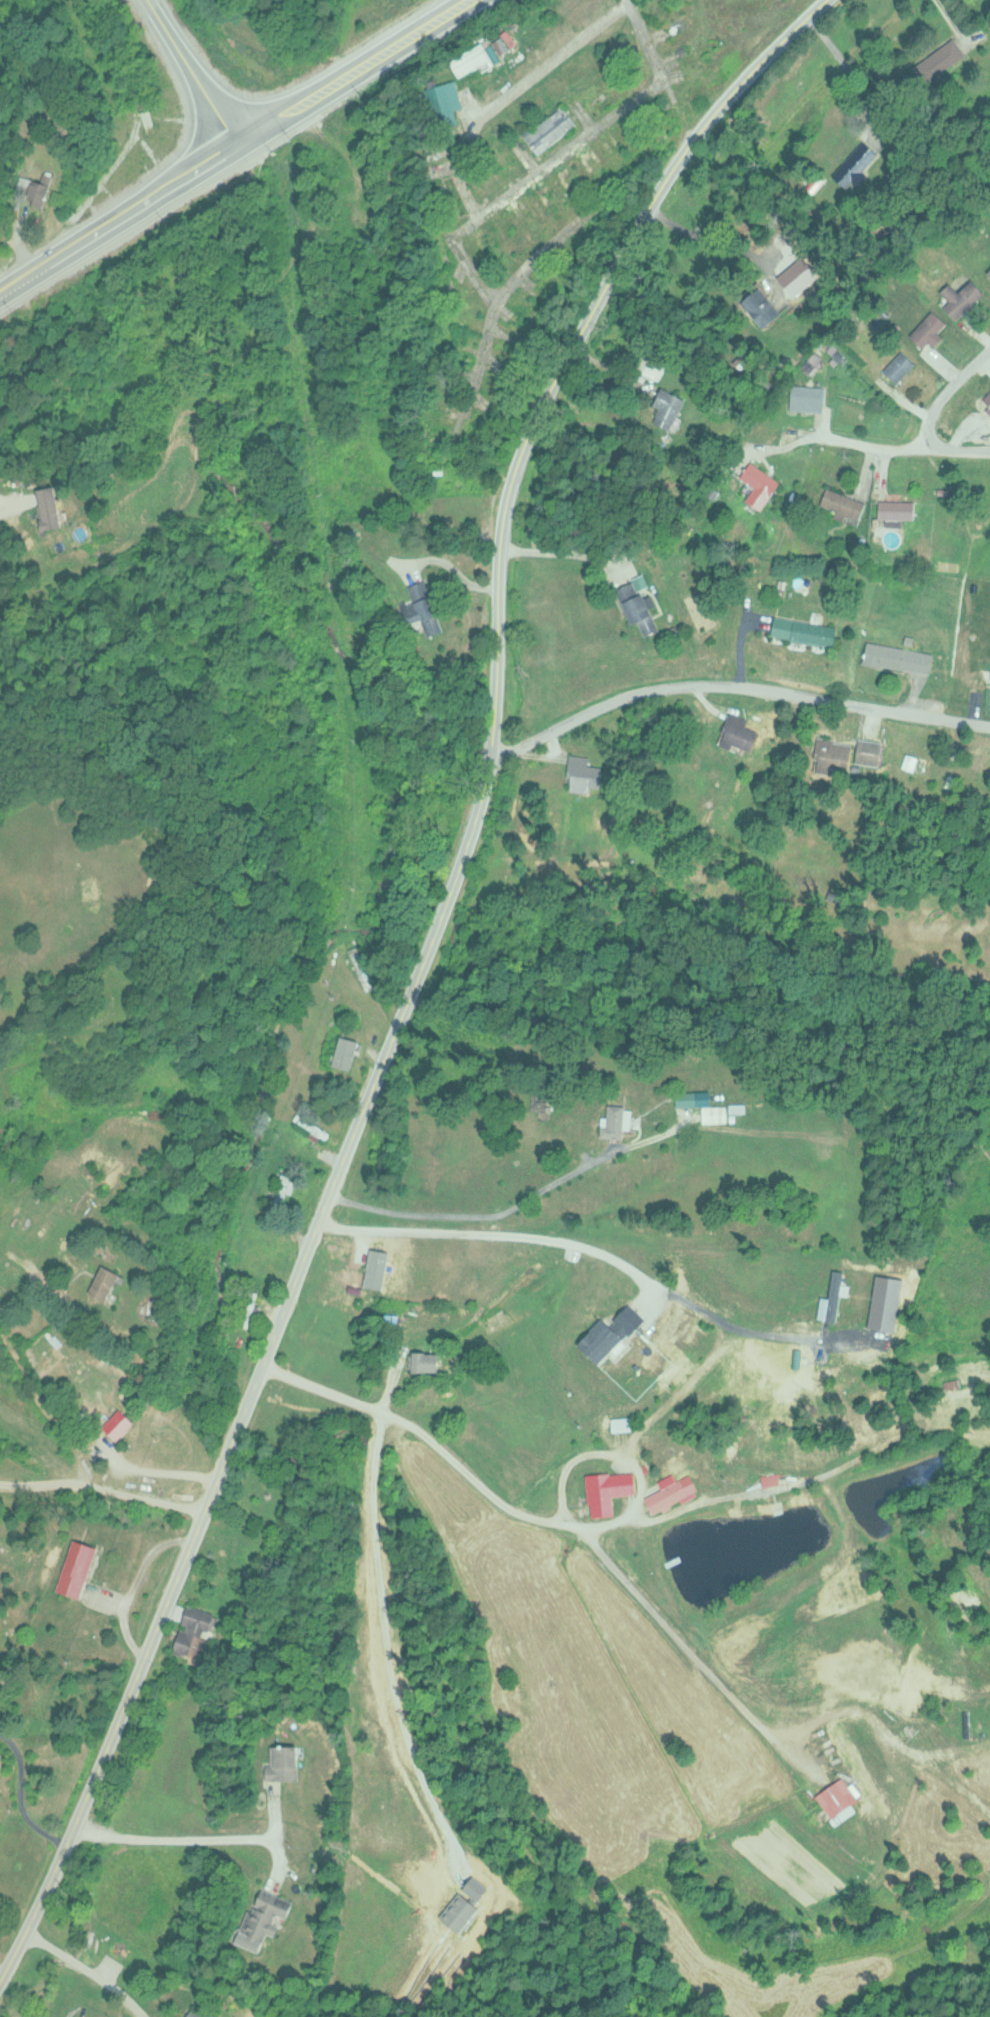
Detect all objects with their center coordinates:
building: (748, 0)
building: (382, 5)
building: (671, 13)
building: (686, 32)
building: (700, 51)
building: (943, 55)
building: (472, 58)
road: (193, 74)
building: (704, 80)
road: (505, 93)
building: (450, 102)
road: (678, 110)
building: (551, 128)
building: (629, 142)
road: (237, 149)
road: (558, 153)
building: (610, 158)
building: (856, 163)
building: (584, 170)
building: (495, 171)
building: (565, 192)
building: (546, 209)
road: (20, 222)
building: (522, 228)
road: (619, 254)
road: (535, 259)
building: (578, 261)
building: (483, 262)
building: (988, 272)
building: (441, 287)
building: (971, 293)
building: (541, 306)
building: (762, 307)
building: (521, 328)
building: (929, 332)
building: (650, 365)
building: (901, 366)
building: (441, 373)
building: (504, 375)
building: (808, 397)
building: (988, 397)
building: (668, 407)
road: (925, 429)
road: (952, 445)
building: (760, 484)
building: (844, 503)
building: (52, 506)
building: (898, 508)
building: (427, 607)
building: (639, 608)
building: (805, 630)
building: (899, 657)
road: (734, 684)
building: (740, 733)
building: (871, 752)
building: (835, 753)
building: (584, 774)
building: (91, 893)
building: (705, 1103)
building: (618, 1121)
building: (311, 1125)
building: (282, 1191)
road: (516, 1202)
road: (573, 1245)
road: (296, 1277)
building: (107, 1283)
building: (248, 1309)
building: (430, 1363)
road: (45, 1410)
building: (121, 1424)
road: (45, 1482)
building: (609, 1490)
building: (671, 1493)
road: (146, 1498)
road: (565, 1522)
building: (78, 1568)
building: (193, 1636)
building: (284, 1763)
building: (838, 1798)
road: (192, 1842)
building: (265, 1913)
road: (82, 1972)
building: (204, 2012)

